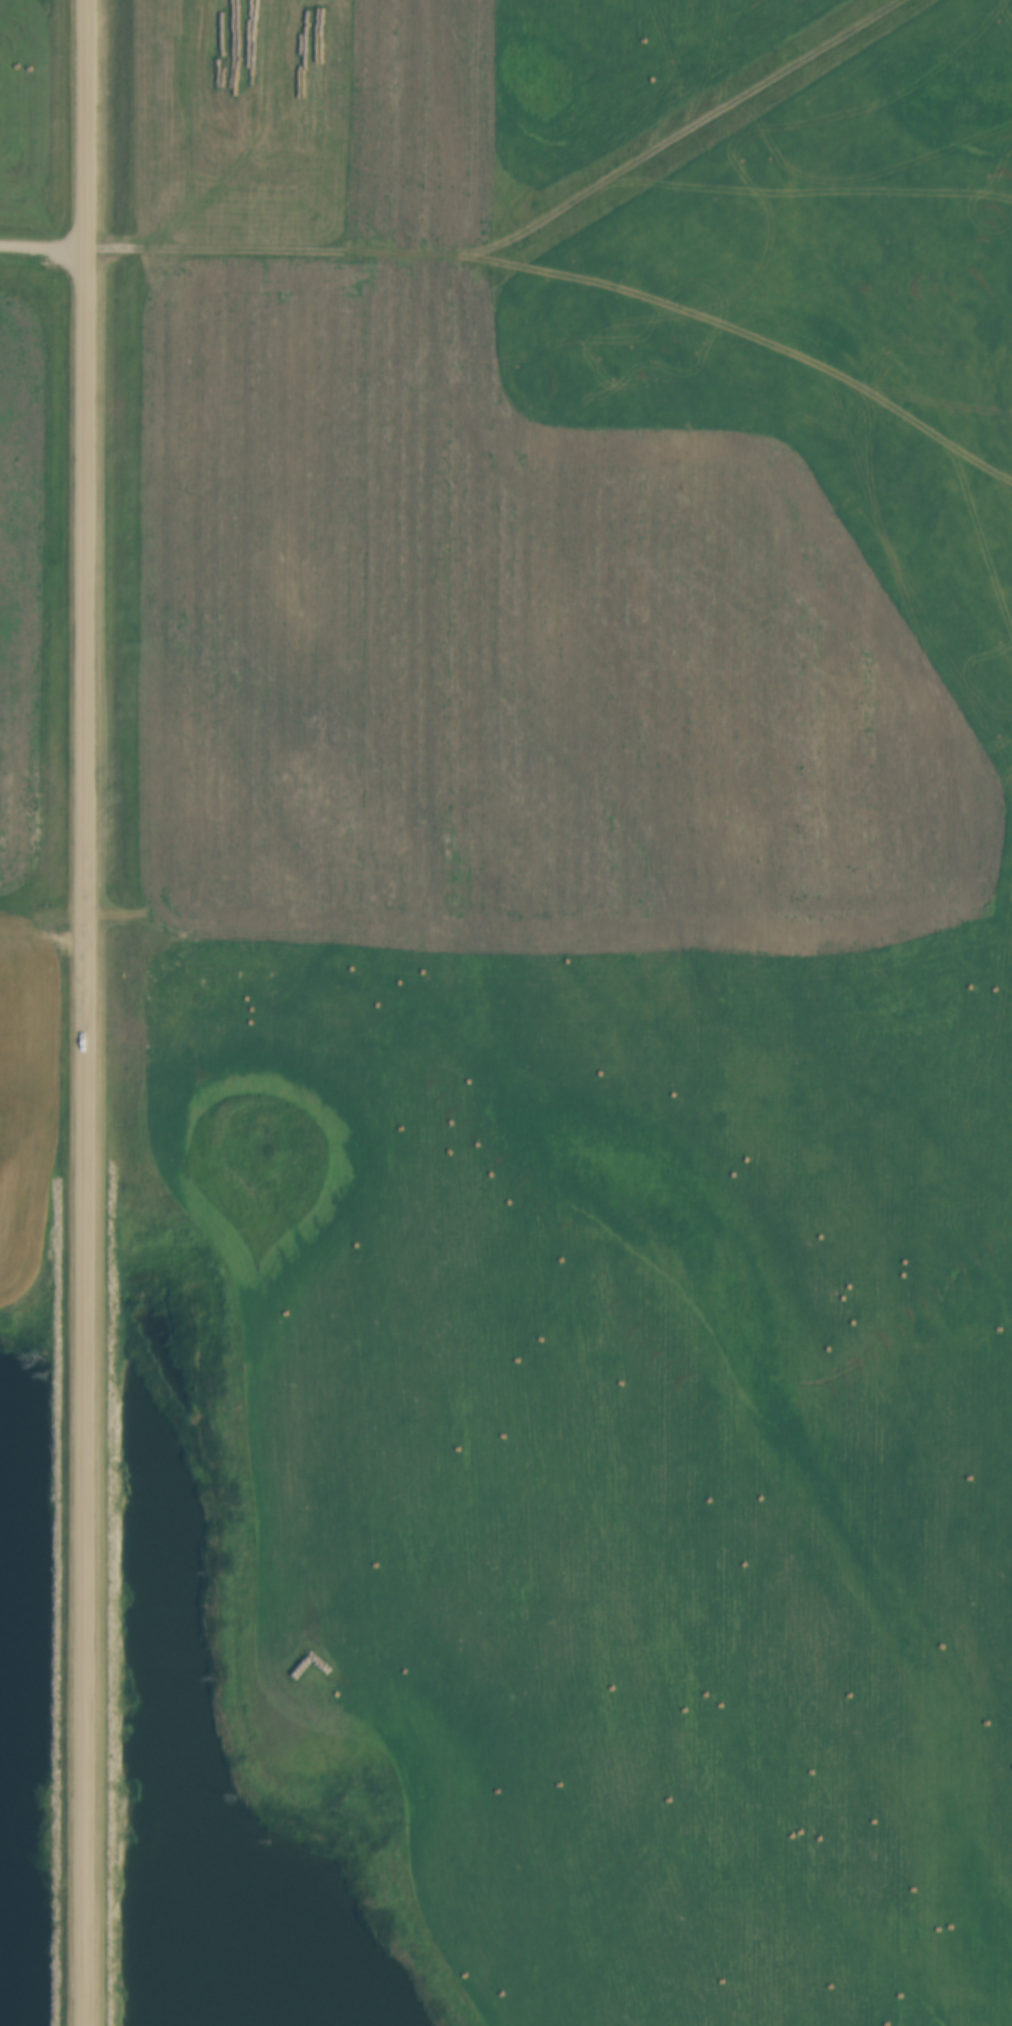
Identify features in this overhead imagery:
building: (232, 40)
building: (241, 180)
road: (44, 242)
road: (88, 1012)

